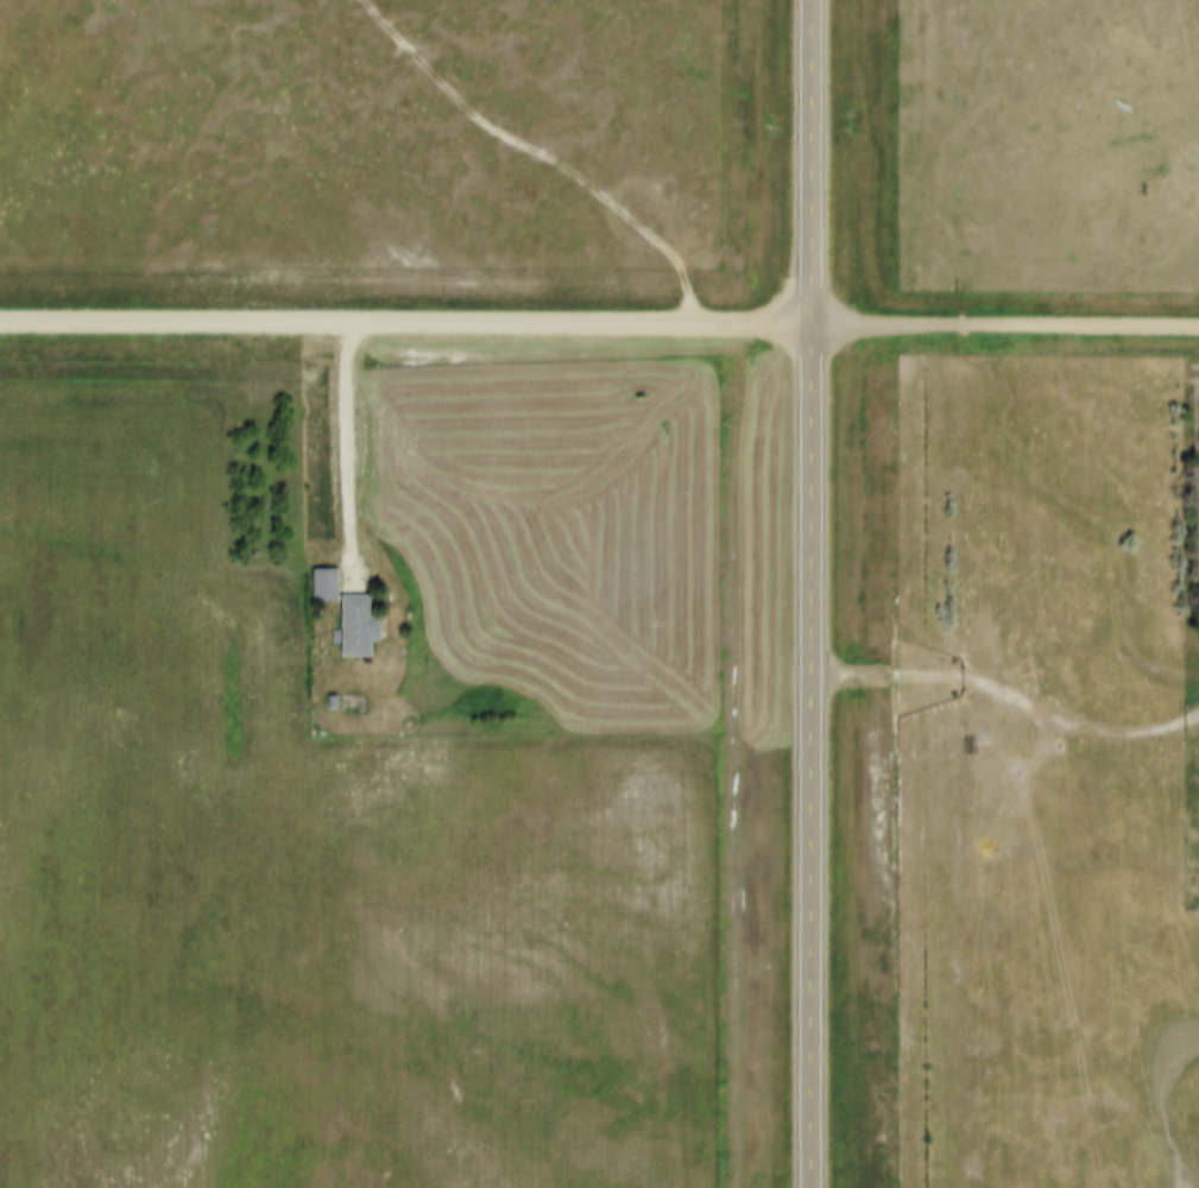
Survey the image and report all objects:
road: (542, 153)
road: (599, 326)
road: (348, 451)
road: (813, 594)
building: (340, 602)
road: (1011, 699)

